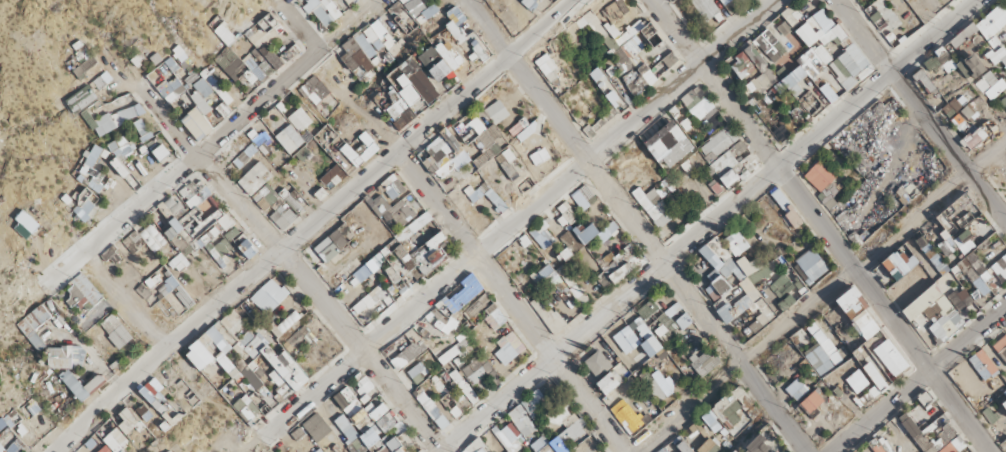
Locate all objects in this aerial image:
road: (229, 127)
road: (517, 216)
road: (307, 222)
road: (702, 227)
road: (819, 291)
road: (917, 378)

